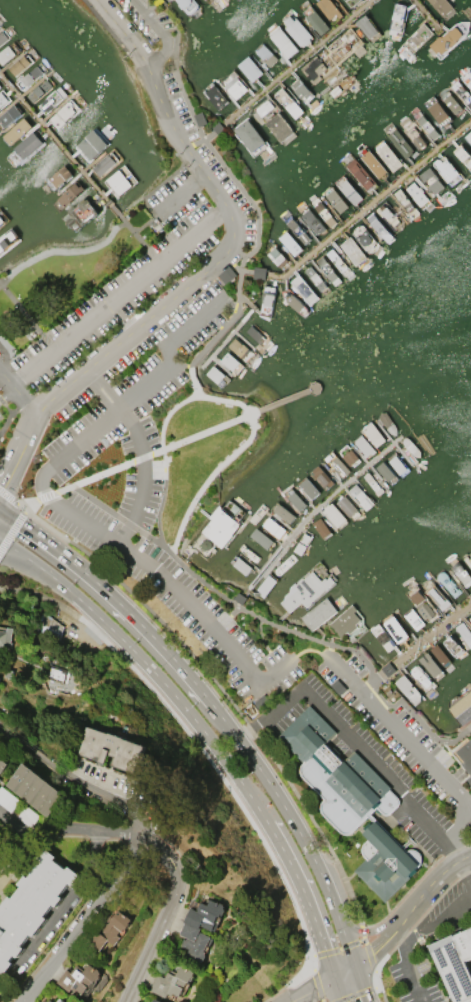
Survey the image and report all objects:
building: (351, 2)
building: (188, 6)
building: (442, 8)
building: (329, 9)
pier: (426, 15)
building: (397, 18)
building: (314, 19)
parking lot: (136, 24)
building: (367, 27)
building: (296, 29)
road: (163, 32)
building: (3, 36)
building: (417, 38)
building: (449, 38)
building: (282, 41)
building: (9, 51)
building: (265, 55)
pier: (296, 63)
building: (20, 64)
building: (249, 68)
road: (148, 70)
building: (31, 76)
building: (467, 78)
building: (234, 85)
building: (40, 89)
building: (301, 90)
building: (462, 93)
building: (215, 96)
building: (3, 99)
building: (52, 99)
building: (451, 102)
building: (288, 103)
building: (65, 112)
building: (439, 113)
building: (9, 116)
building: (273, 120)
building: (427, 126)
building: (16, 131)
building: (414, 136)
building: (468, 136)
building: (249, 137)
building: (399, 142)
pier: (60, 146)
building: (92, 146)
building: (26, 147)
building: (463, 155)
building: (388, 157)
building: (373, 164)
building: (105, 165)
building: (447, 169)
building: (359, 174)
building: (58, 177)
building: (118, 181)
building: (432, 181)
building: (349, 192)
road: (179, 194)
building: (68, 195)
building: (417, 196)
building: (335, 201)
building: (405, 203)
pier: (369, 204)
road: (258, 212)
building: (323, 212)
building: (80, 214)
building: (389, 216)
building: (2, 220)
building: (310, 221)
building: (379, 227)
building: (297, 230)
building: (364, 239)
road: (140, 240)
building: (7, 241)
building: (289, 243)
road: (62, 250)
building: (353, 251)
building: (278, 257)
building: (338, 262)
building: (327, 269)
road: (253, 272)
building: (259, 273)
building: (315, 279)
building: (303, 289)
road: (119, 296)
road: (175, 297)
building: (266, 300)
building: (294, 302)
road: (27, 317)
building: (256, 333)
building: (240, 347)
building: (230, 362)
road: (161, 374)
building: (216, 374)
road: (103, 389)
road: (17, 391)
road: (7, 394)
pier: (284, 401)
building: (416, 405)
road: (168, 414)
road: (13, 416)
building: (387, 423)
road: (207, 431)
building: (373, 434)
building: (421, 435)
building: (363, 446)
building: (411, 447)
road: (17, 450)
building: (349, 455)
road: (230, 459)
road: (164, 463)
building: (397, 464)
building: (336, 465)
road: (116, 467)
building: (386, 473)
road: (143, 475)
building: (321, 478)
building: (371, 484)
traffic signals: (1, 487)
building: (308, 488)
building: (360, 497)
building: (295, 499)
road: (95, 501)
pier: (321, 504)
building: (346, 505)
building: (282, 512)
building: (334, 515)
traffic signals: (21, 524)
building: (275, 527)
building: (323, 527)
building: (218, 528)
road: (12, 530)
building: (261, 539)
building: (301, 543)
road: (14, 549)
building: (248, 553)
road: (14, 555)
building: (468, 559)
building: (285, 564)
building: (239, 565)
road: (147, 567)
building: (461, 574)
building: (447, 583)
building: (266, 584)
building: (307, 588)
building: (436, 594)
road: (114, 598)
road: (241, 598)
building: (422, 602)
road: (91, 610)
building: (318, 614)
building: (469, 618)
building: (345, 620)
building: (413, 620)
building: (397, 629)
building: (464, 633)
building: (4, 638)
building: (383, 638)
pier: (425, 639)
building: (452, 647)
road: (306, 648)
building: (440, 655)
building: (429, 665)
building: (422, 680)
road: (373, 682)
building: (409, 689)
building: (461, 706)
road: (240, 711)
building: (438, 717)
road: (206, 735)
road: (355, 740)
road: (414, 748)
building: (111, 749)
road: (245, 749)
building: (466, 757)
building: (2, 764)
building: (34, 789)
building: (7, 799)
building: (351, 801)
road: (72, 827)
road: (152, 834)
road: (469, 867)
road: (322, 876)
road: (302, 890)
building: (31, 905)
road: (405, 912)
building: (204, 914)
road: (87, 917)
road: (435, 923)
building: (110, 929)
road: (364, 931)
building: (193, 941)
road: (344, 945)
traffic signals: (324, 949)
traffic signals: (372, 954)
road: (406, 964)
building: (454, 964)
building: (78, 978)
building: (172, 982)
road: (361, 983)
road: (317, 988)
traffic signals: (315, 989)
road: (339, 990)
road: (361, 992)
traffic signals: (365, 994)
building: (155, 1000)
building: (49, 1001)
building: (61, 1001)

